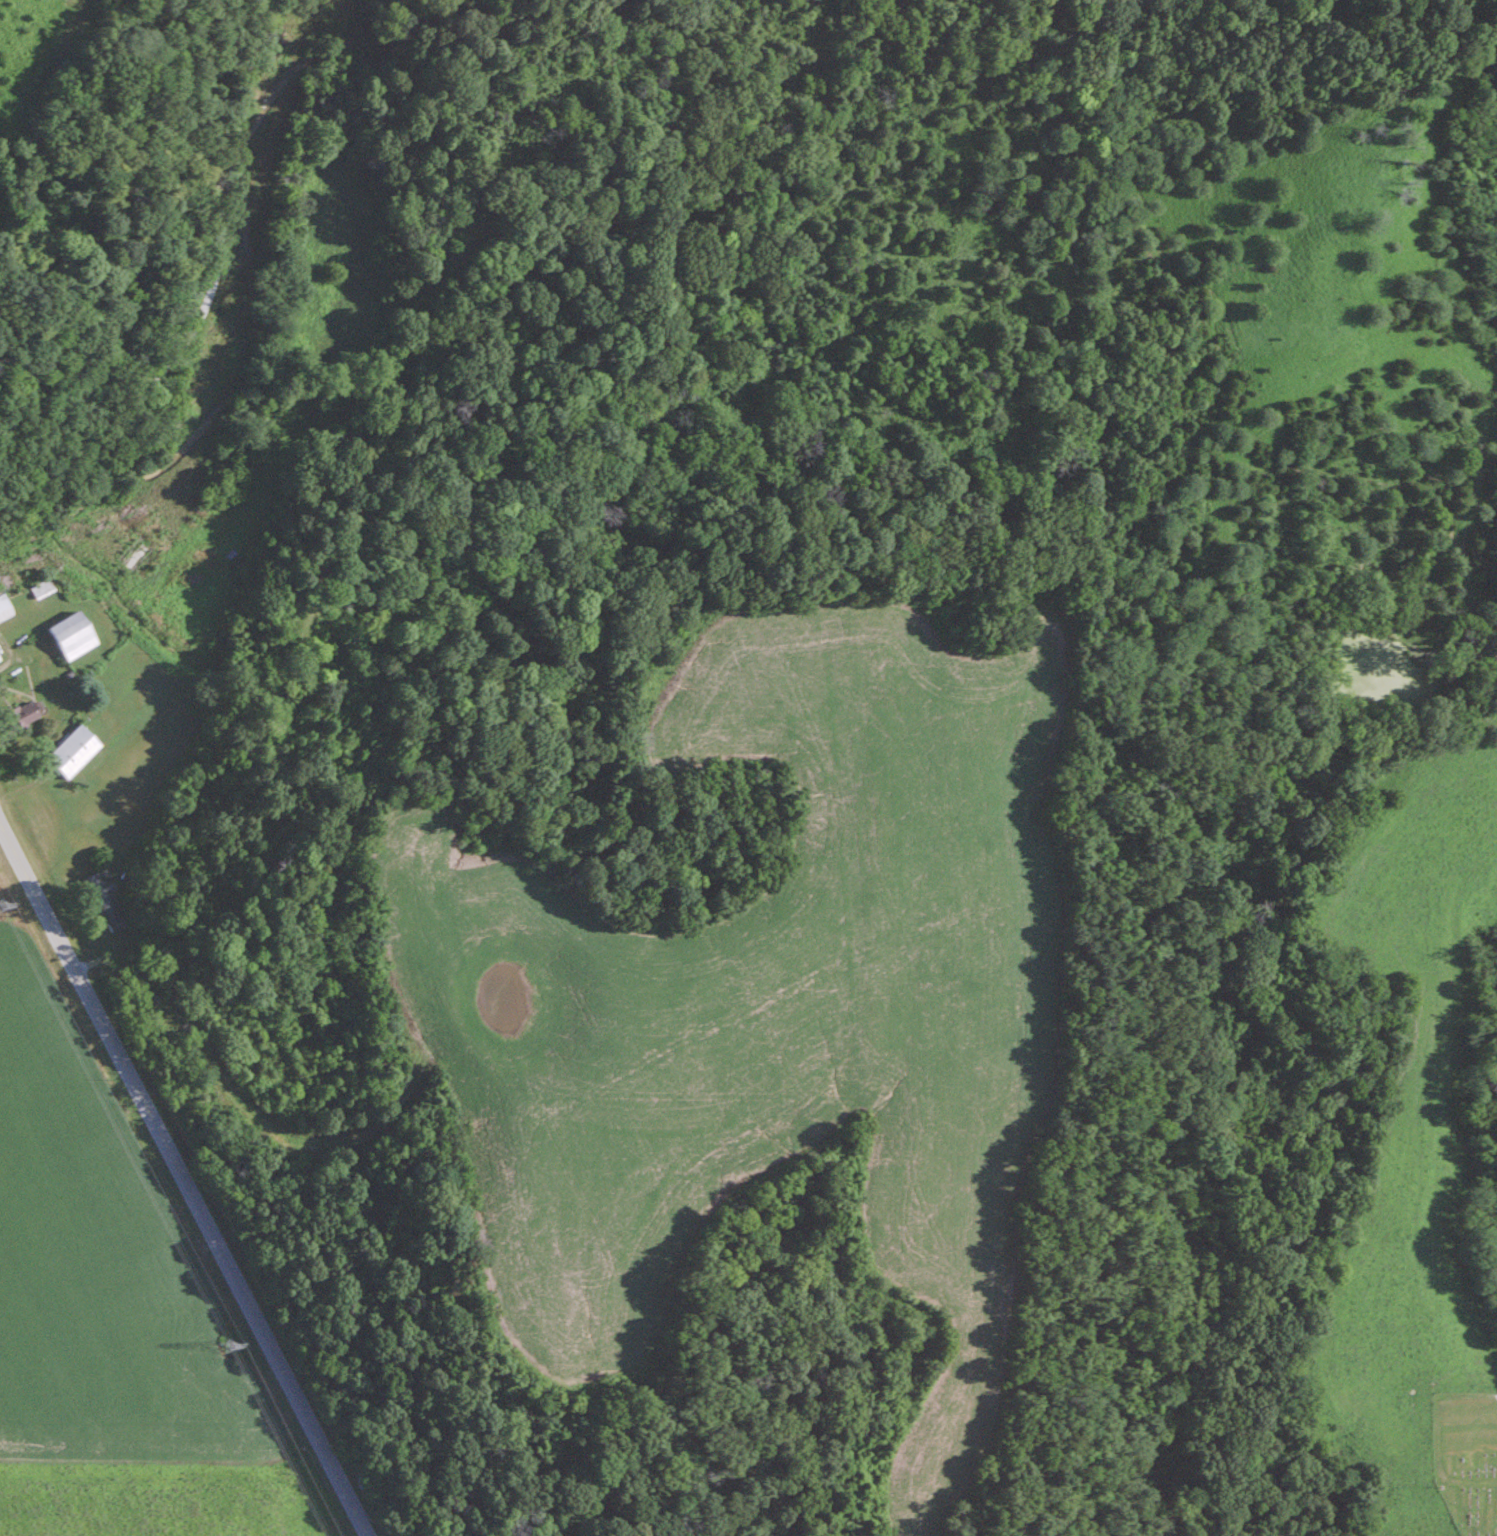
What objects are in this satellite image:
road: (207, 294)
building: (132, 561)
building: (42, 588)
building: (5, 606)
building: (73, 633)
building: (0, 658)
building: (26, 711)
building: (75, 749)
building: (109, 900)
road: (182, 1182)
road: (1492, 1397)
park: (1465, 1457)

